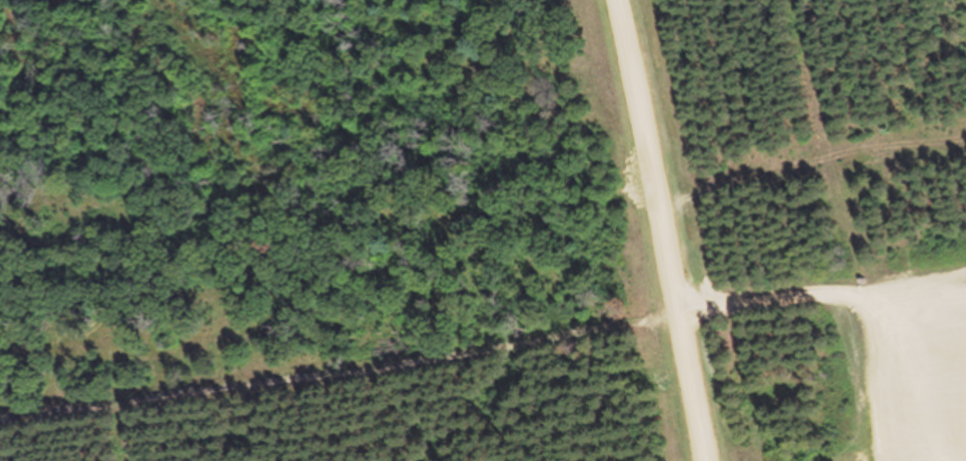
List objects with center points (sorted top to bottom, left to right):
road: (662, 230)
road: (768, 303)
road: (340, 374)

